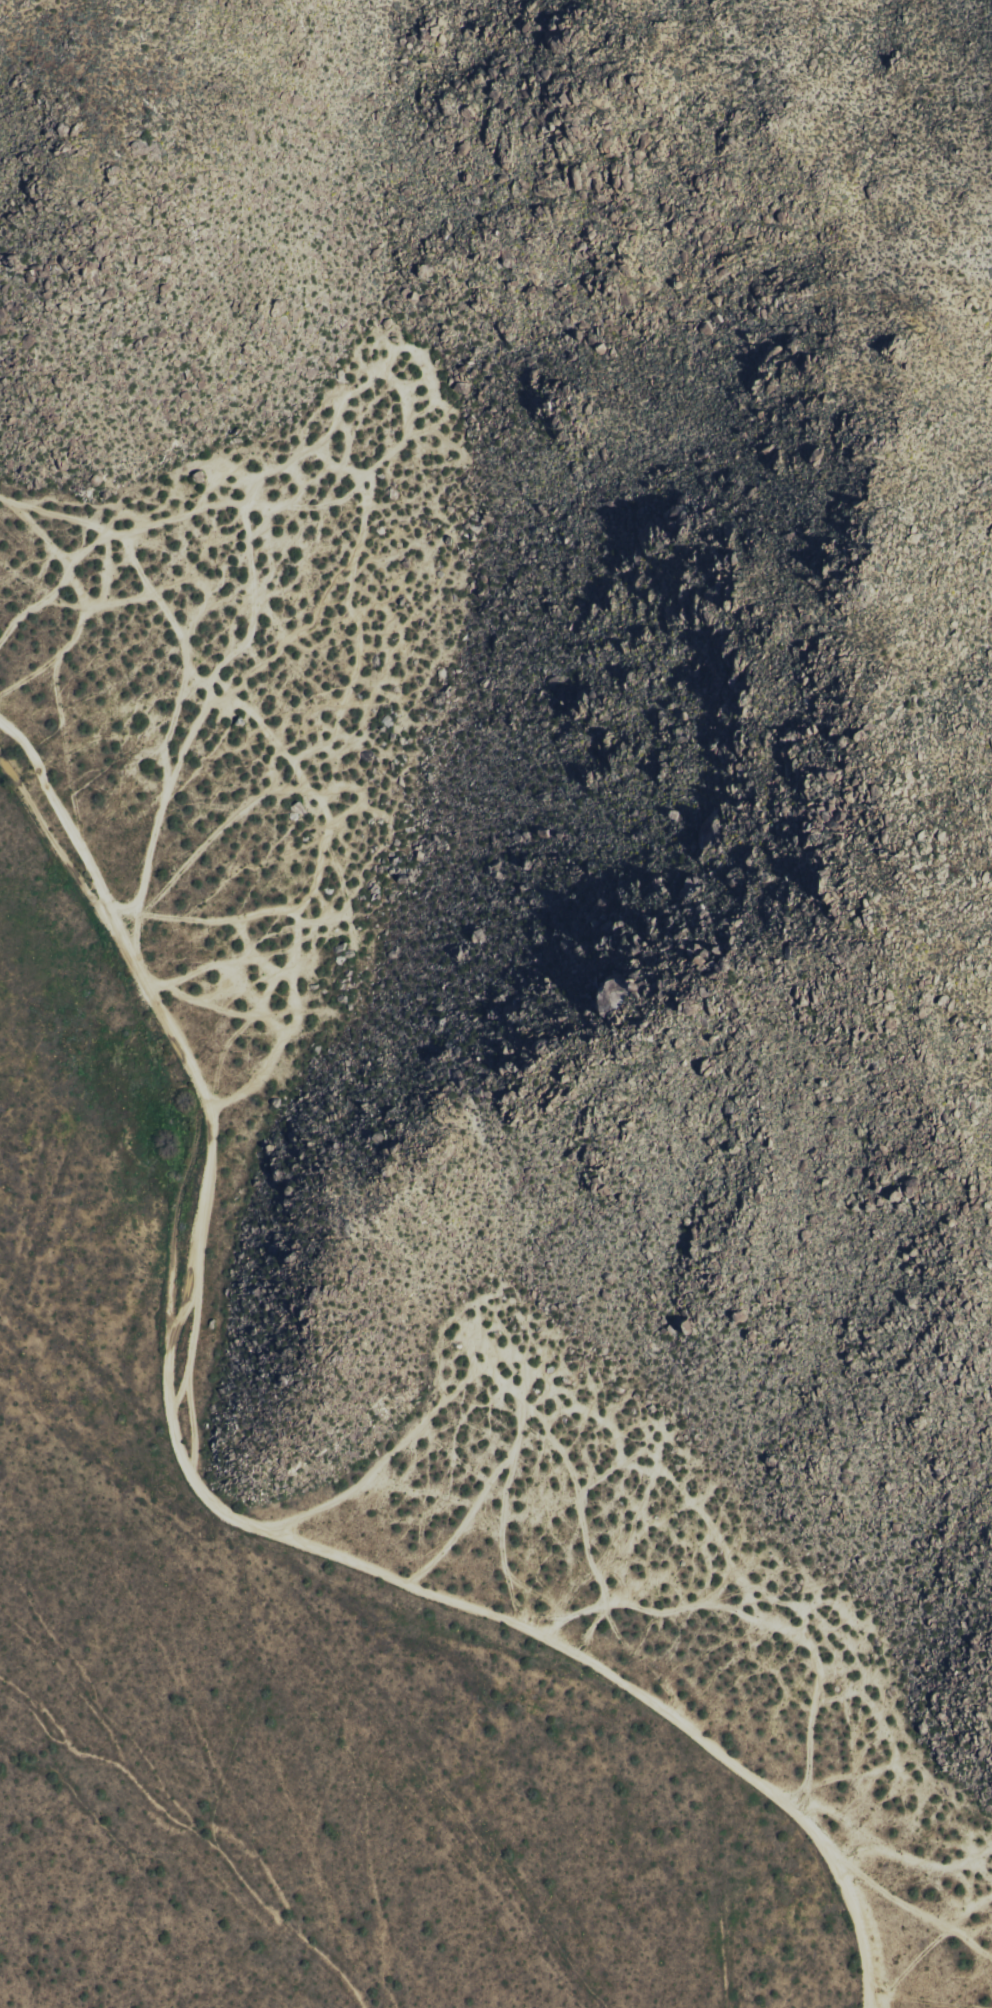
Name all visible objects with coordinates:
road: (243, 525)
road: (184, 684)
road: (296, 932)
road: (486, 1371)
airport runway: (59, 1451)
road: (237, 1520)
road: (753, 1610)

